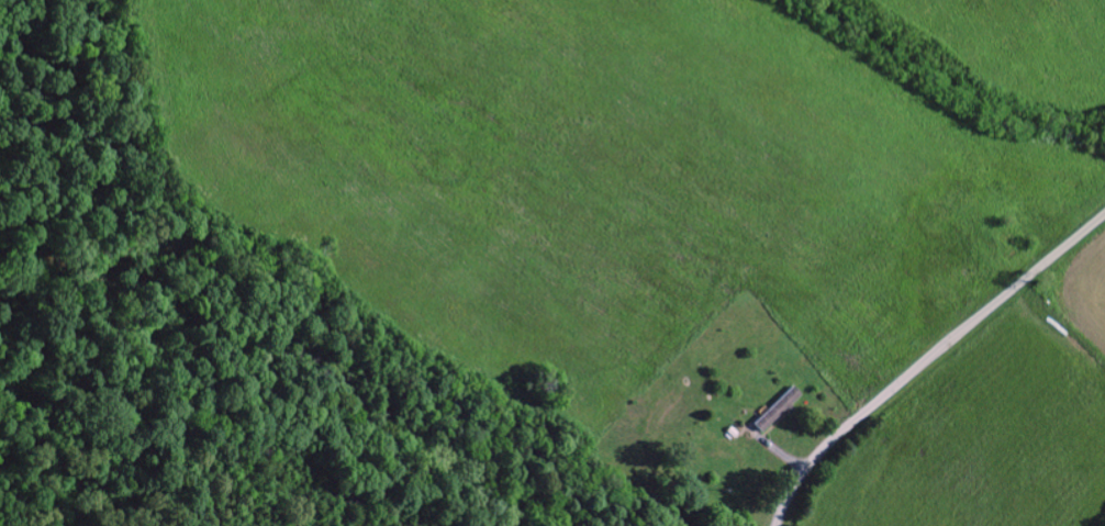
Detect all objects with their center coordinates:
road: (929, 359)
building: (779, 410)

